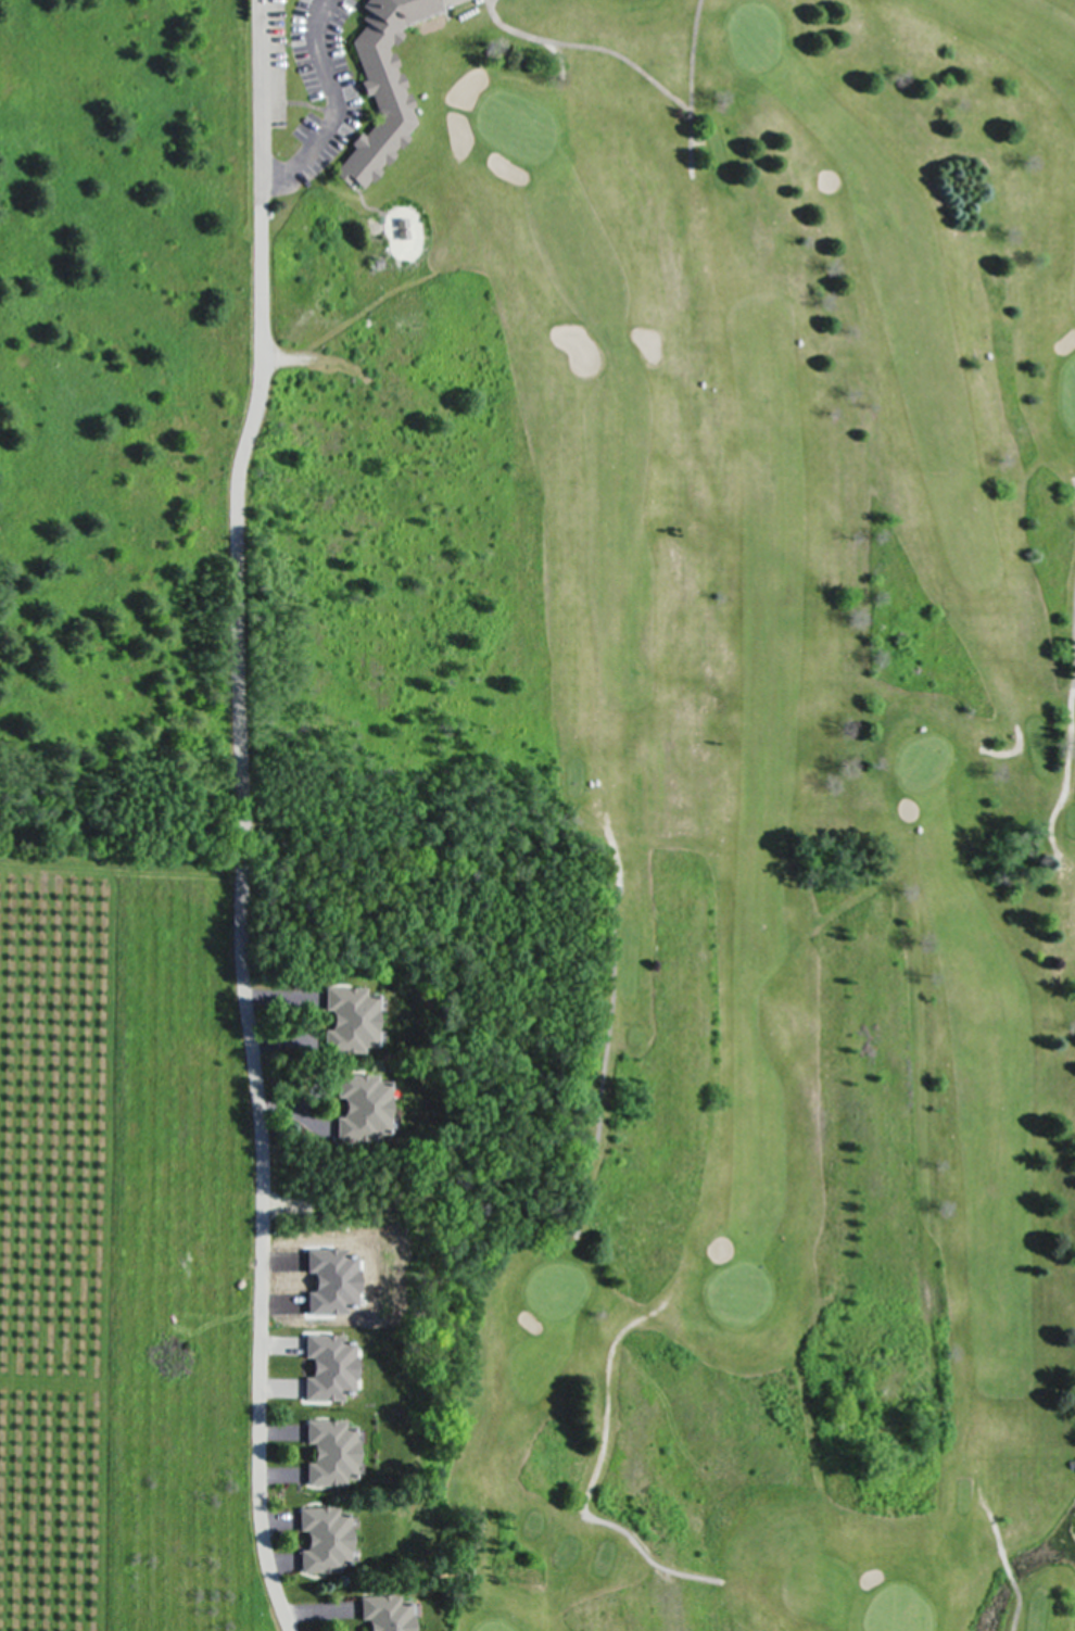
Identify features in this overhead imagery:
building: (378, 87)
park: (656, 791)
road: (237, 817)
building: (346, 1020)
building: (358, 1107)
building: (328, 1280)
building: (327, 1366)
building: (327, 1452)
building: (321, 1539)
building: (382, 1613)

